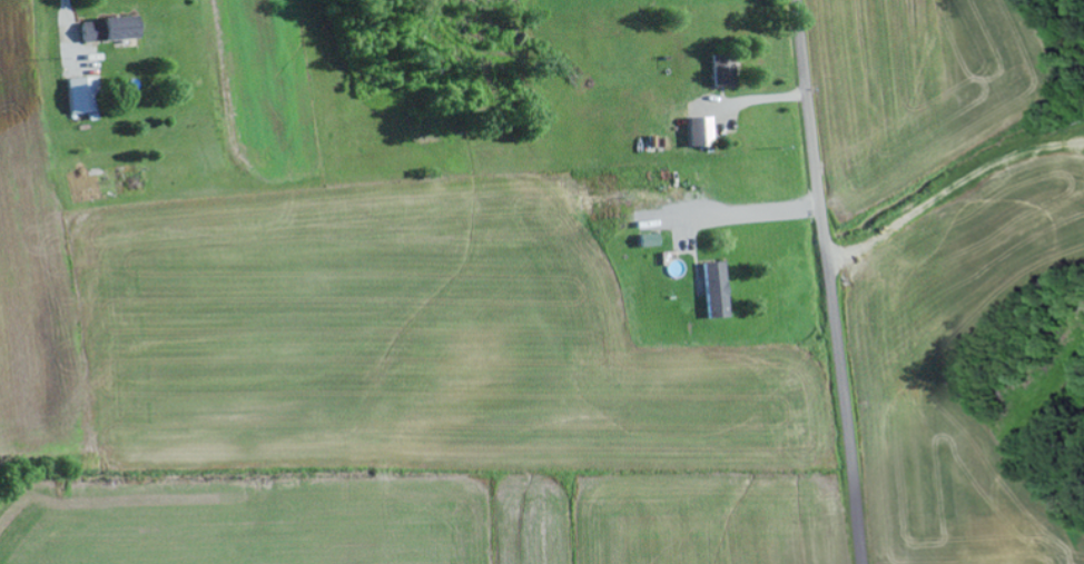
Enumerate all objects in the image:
building: (109, 29)
building: (722, 70)
building: (83, 95)
building: (701, 131)
road: (830, 281)
building: (716, 290)

